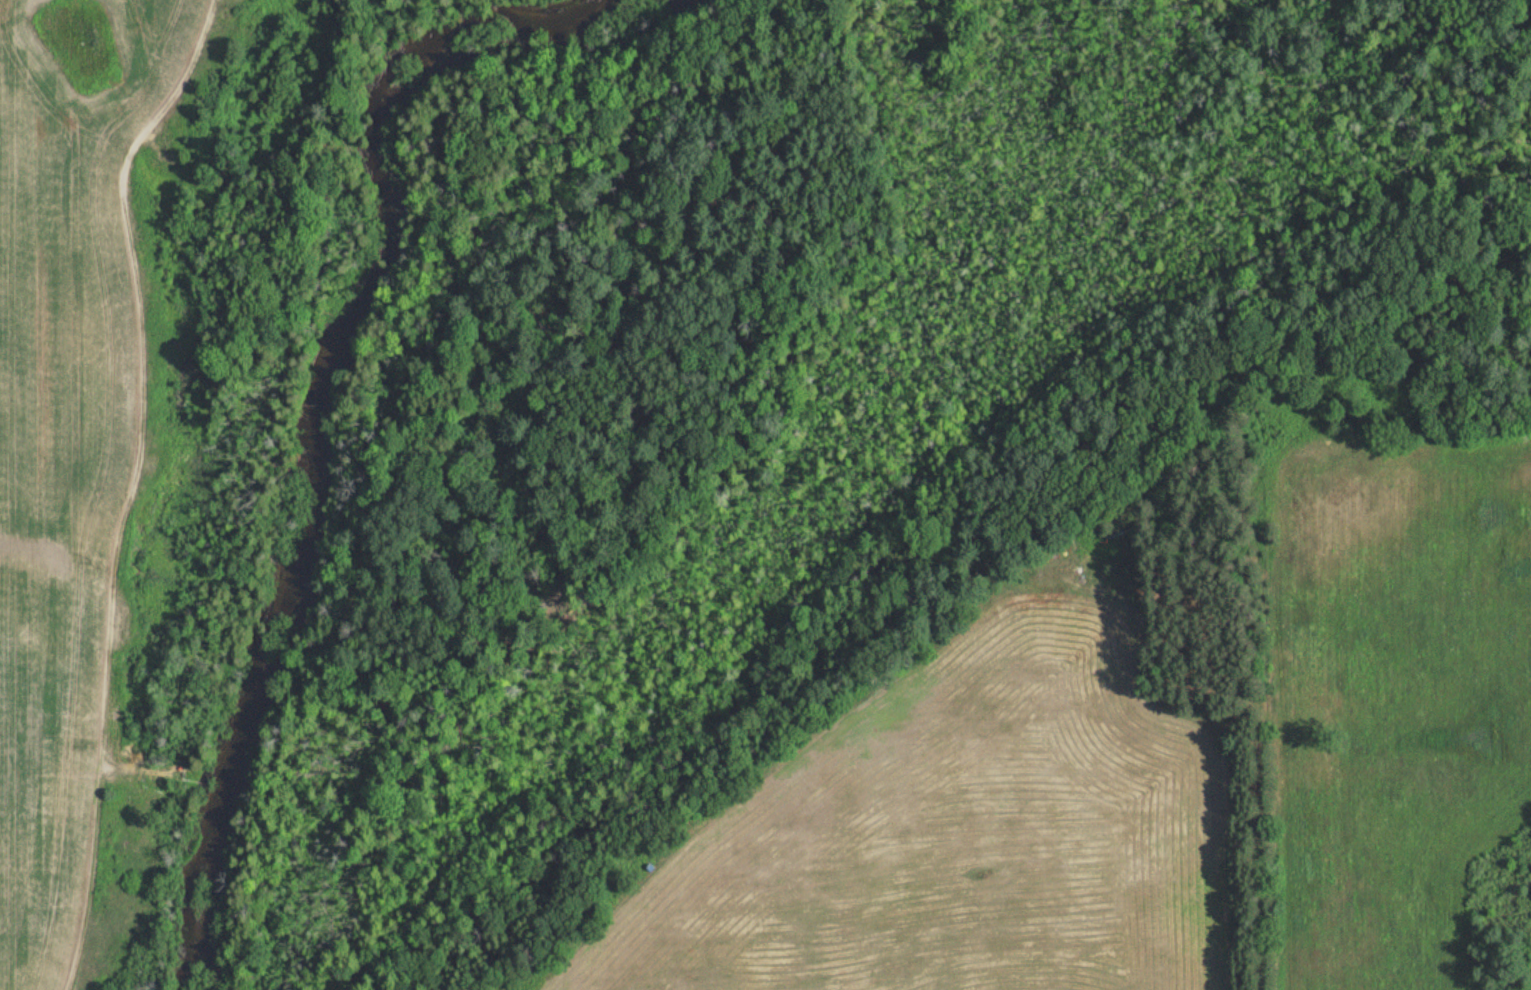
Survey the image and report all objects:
river: (315, 411)

